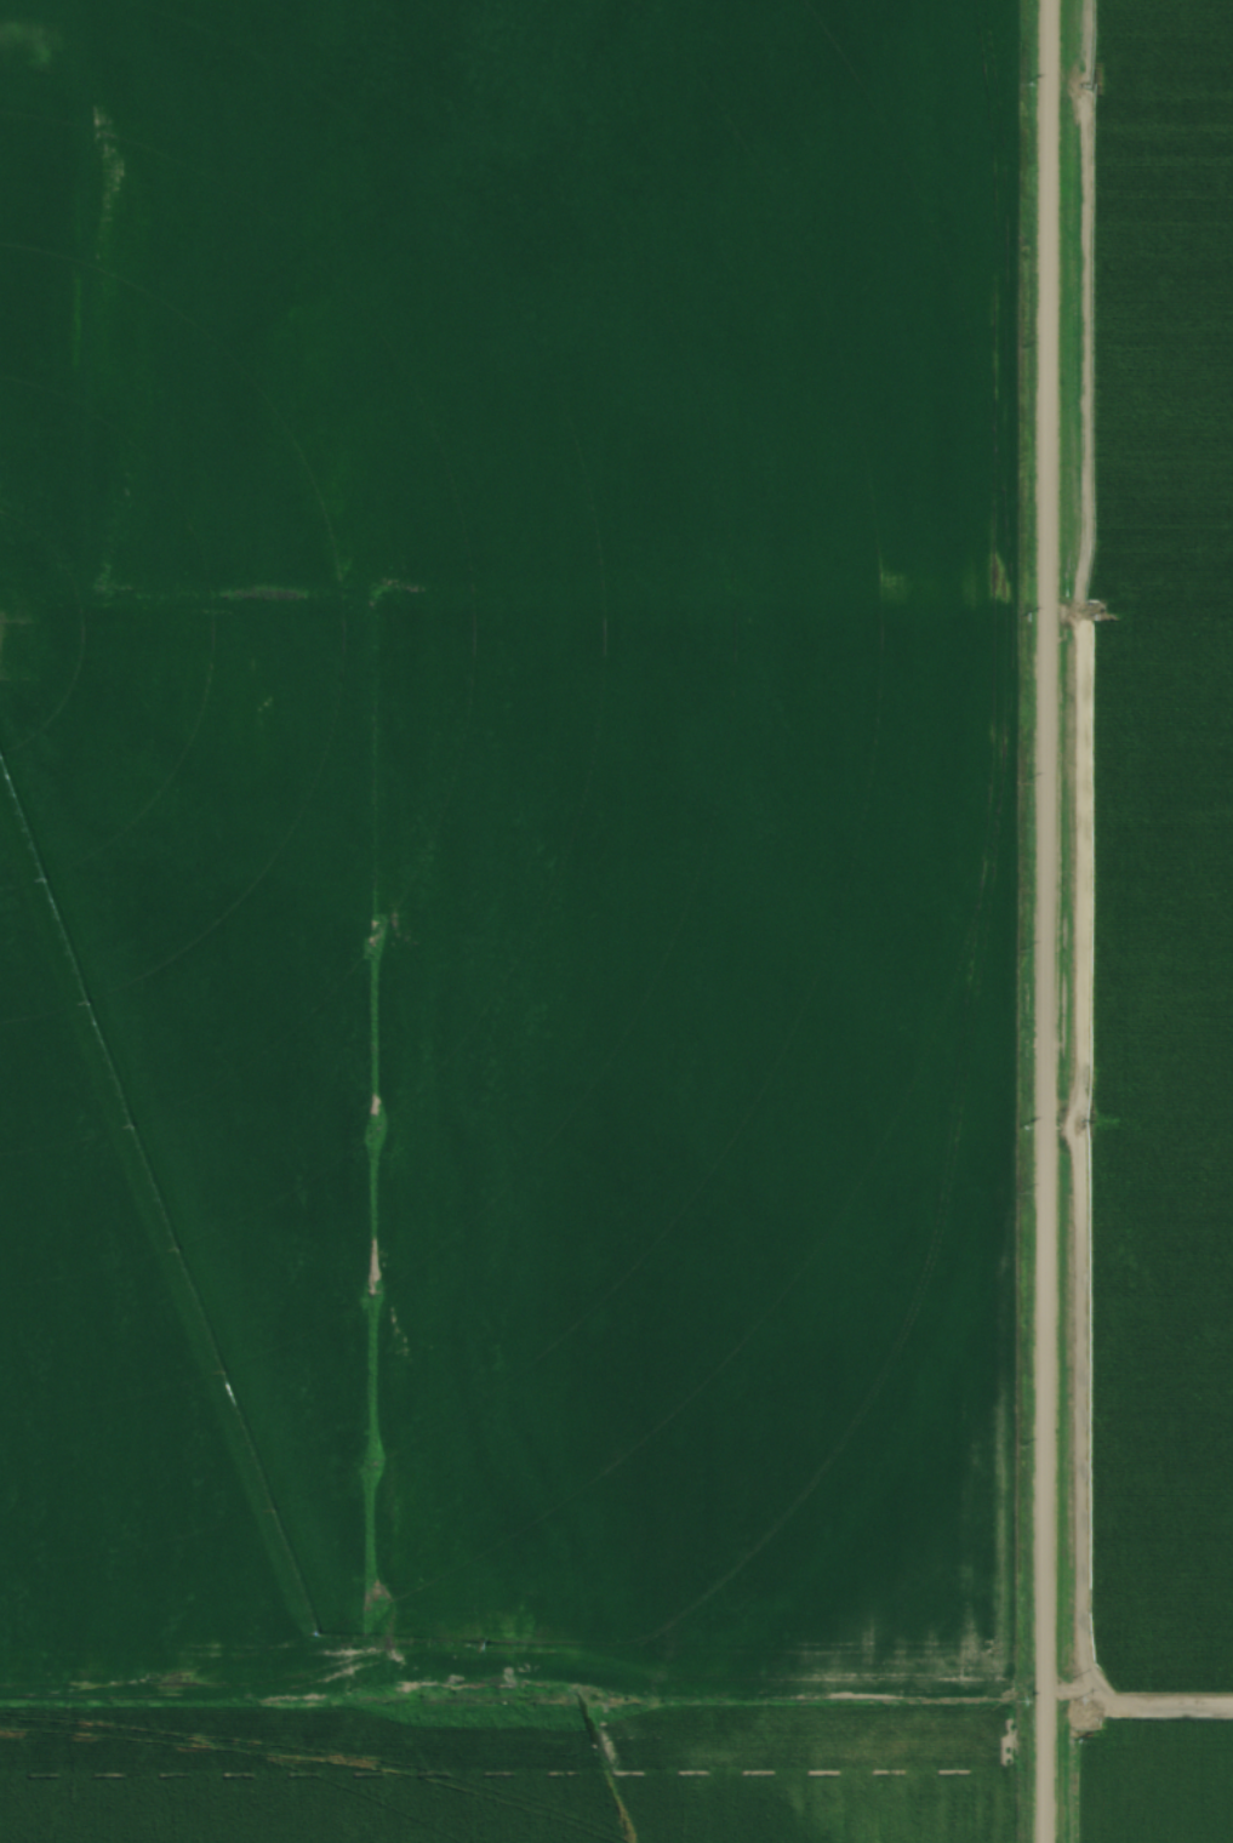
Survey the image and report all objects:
road: (1049, 920)

